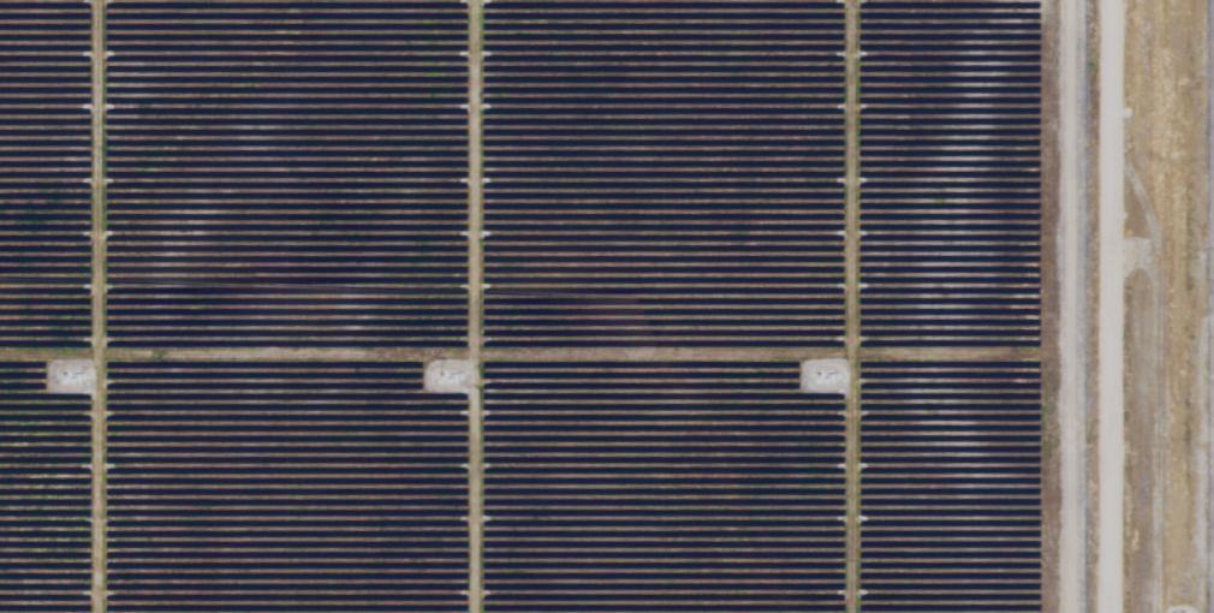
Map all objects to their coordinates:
solar farm: (607, 306)
road: (1136, 306)

